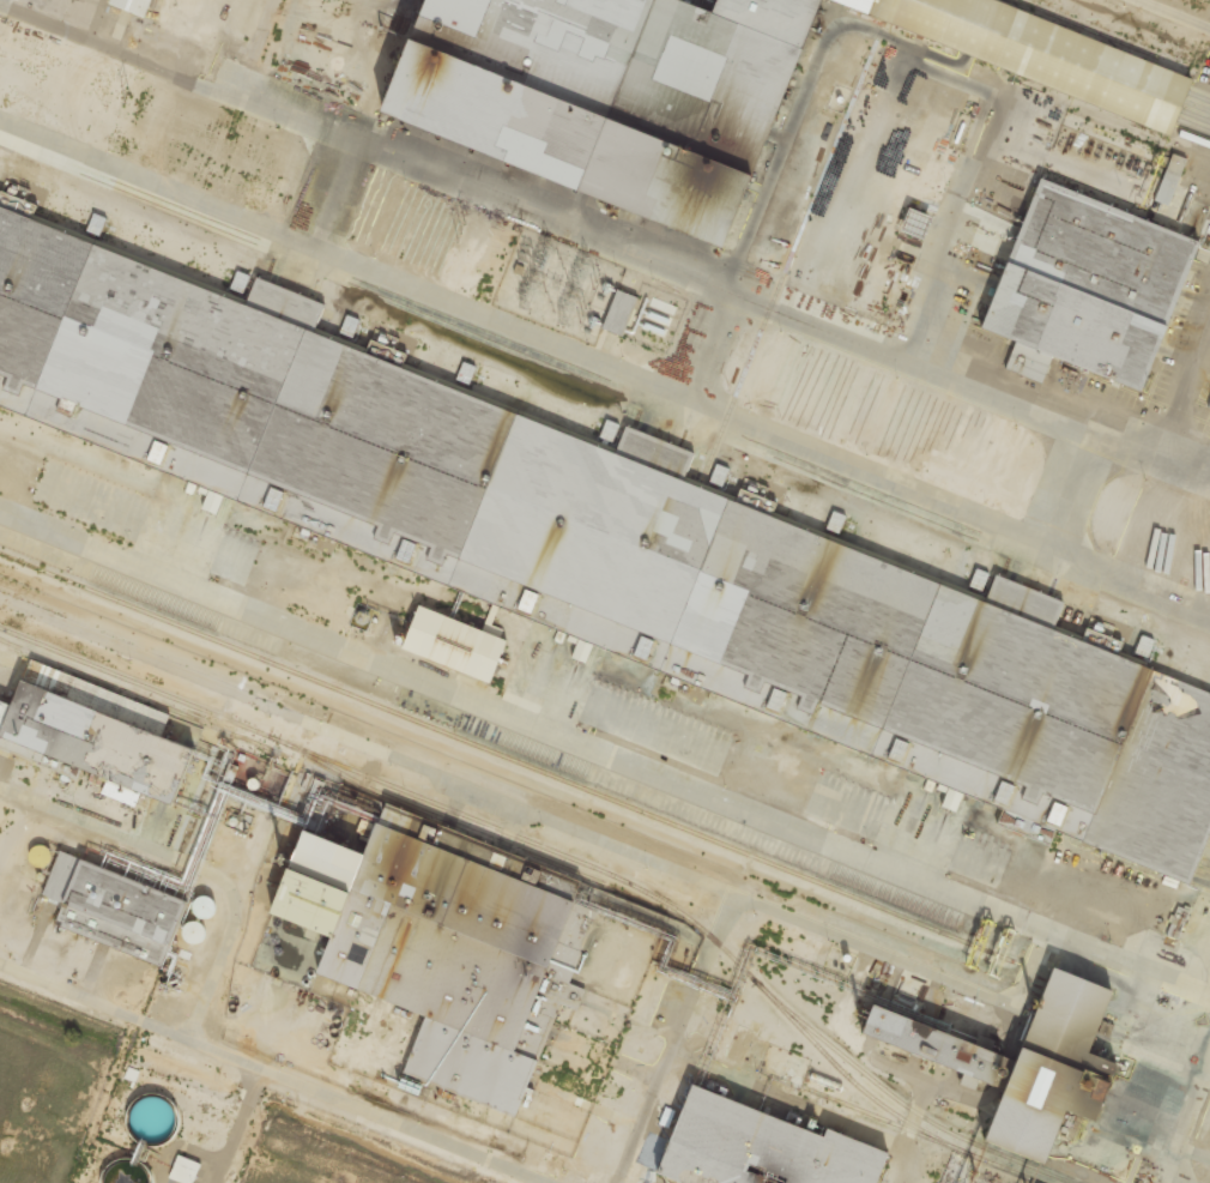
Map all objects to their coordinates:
building: (502, 0)
building: (133, 6)
building: (462, 12)
railway: (1121, 29)
railway: (1100, 34)
building: (715, 85)
power tower: (129, 102)
building: (1174, 169)
building: (22, 203)
building: (916, 221)
power tower: (460, 233)
building: (1083, 283)
power substation: (558, 286)
building: (619, 312)
road: (1024, 408)
building: (603, 545)
building: (454, 642)
railway: (144, 698)
building: (85, 744)
railway: (509, 759)
building: (951, 797)
railway: (462, 829)
railway: (519, 837)
building: (114, 907)
building: (1026, 1062)
railway: (901, 1100)
railway: (924, 1134)
building: (761, 1148)
building: (184, 1169)

